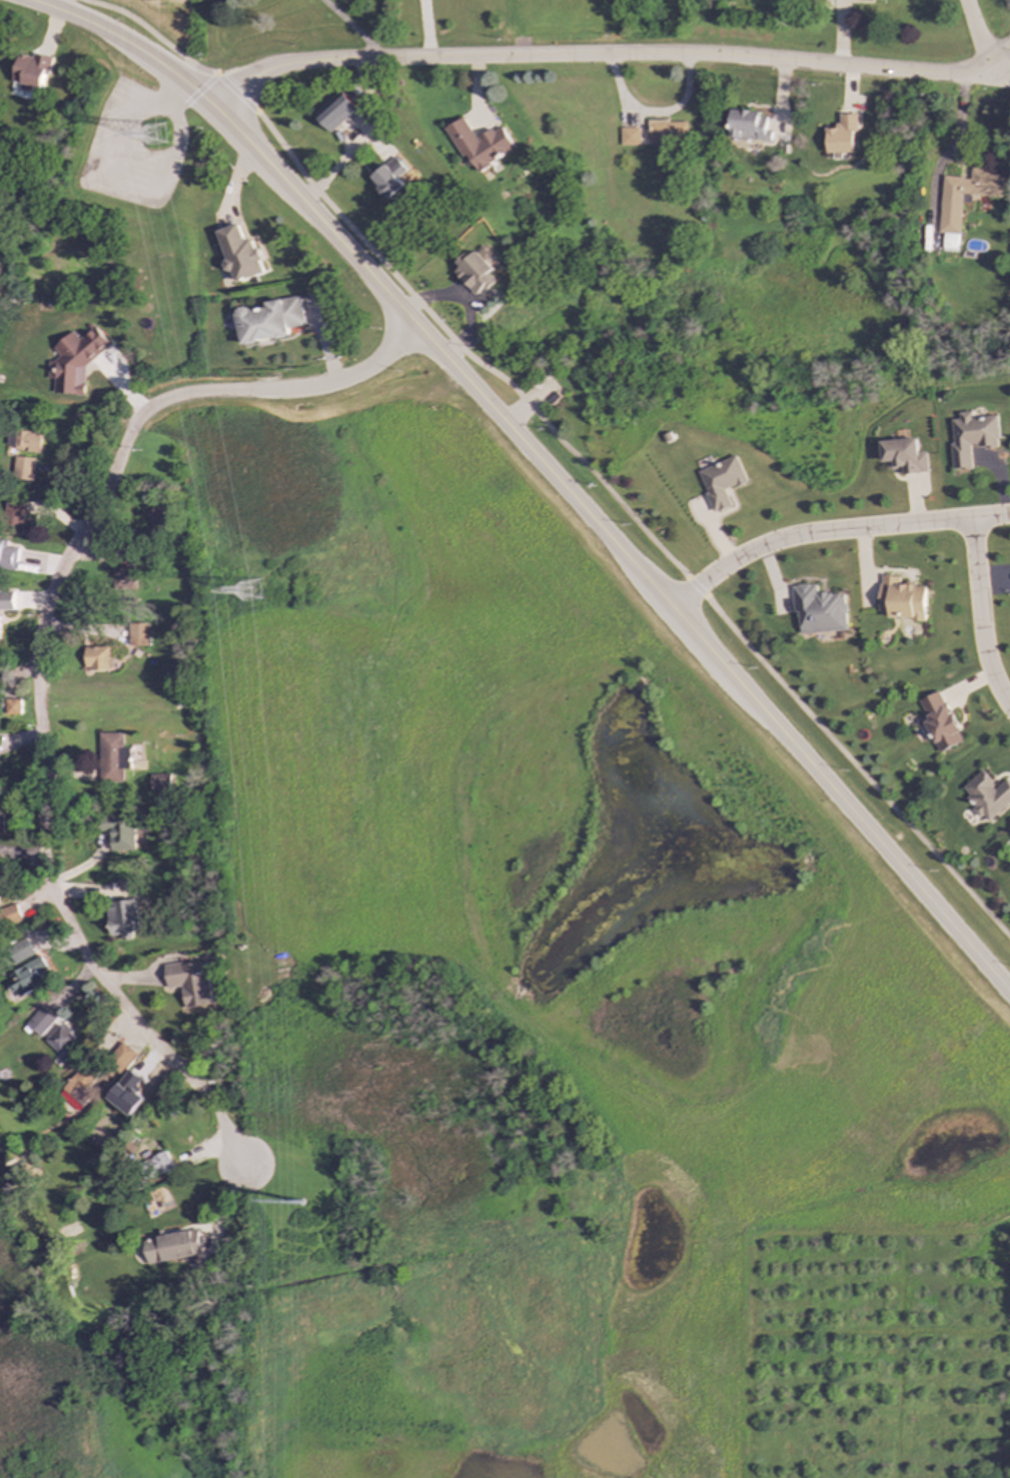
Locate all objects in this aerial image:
crop: (166, 7)
road: (349, 27)
road: (426, 29)
road: (978, 39)
road: (596, 55)
road: (997, 60)
building: (32, 71)
road: (1001, 79)
building: (337, 111)
building: (749, 126)
building: (669, 132)
building: (843, 134)
power tower: (156, 135)
building: (631, 136)
building: (481, 144)
road: (953, 145)
building: (390, 178)
building: (965, 200)
building: (242, 254)
building: (474, 272)
building: (270, 320)
building: (76, 360)
building: (973, 437)
building: (24, 441)
road: (564, 445)
building: (905, 456)
road: (539, 461)
building: (23, 468)
building: (722, 482)
building: (14, 515)
building: (158, 516)
road: (828, 528)
building: (9, 555)
building: (126, 574)
power tower: (248, 590)
building: (903, 599)
building: (7, 601)
building: (820, 610)
road: (982, 616)
building: (138, 635)
building: (0, 636)
building: (97, 658)
road: (36, 665)
building: (12, 707)
building: (941, 722)
building: (113, 758)
building: (160, 783)
building: (988, 796)
building: (2, 824)
building: (122, 831)
building: (0, 893)
building: (13, 914)
building: (125, 919)
building: (21, 950)
building: (28, 977)
building: (191, 982)
building: (41, 1021)
building: (62, 1039)
building: (122, 1057)
building: (159, 1164)
power tower: (304, 1221)
building: (173, 1247)

